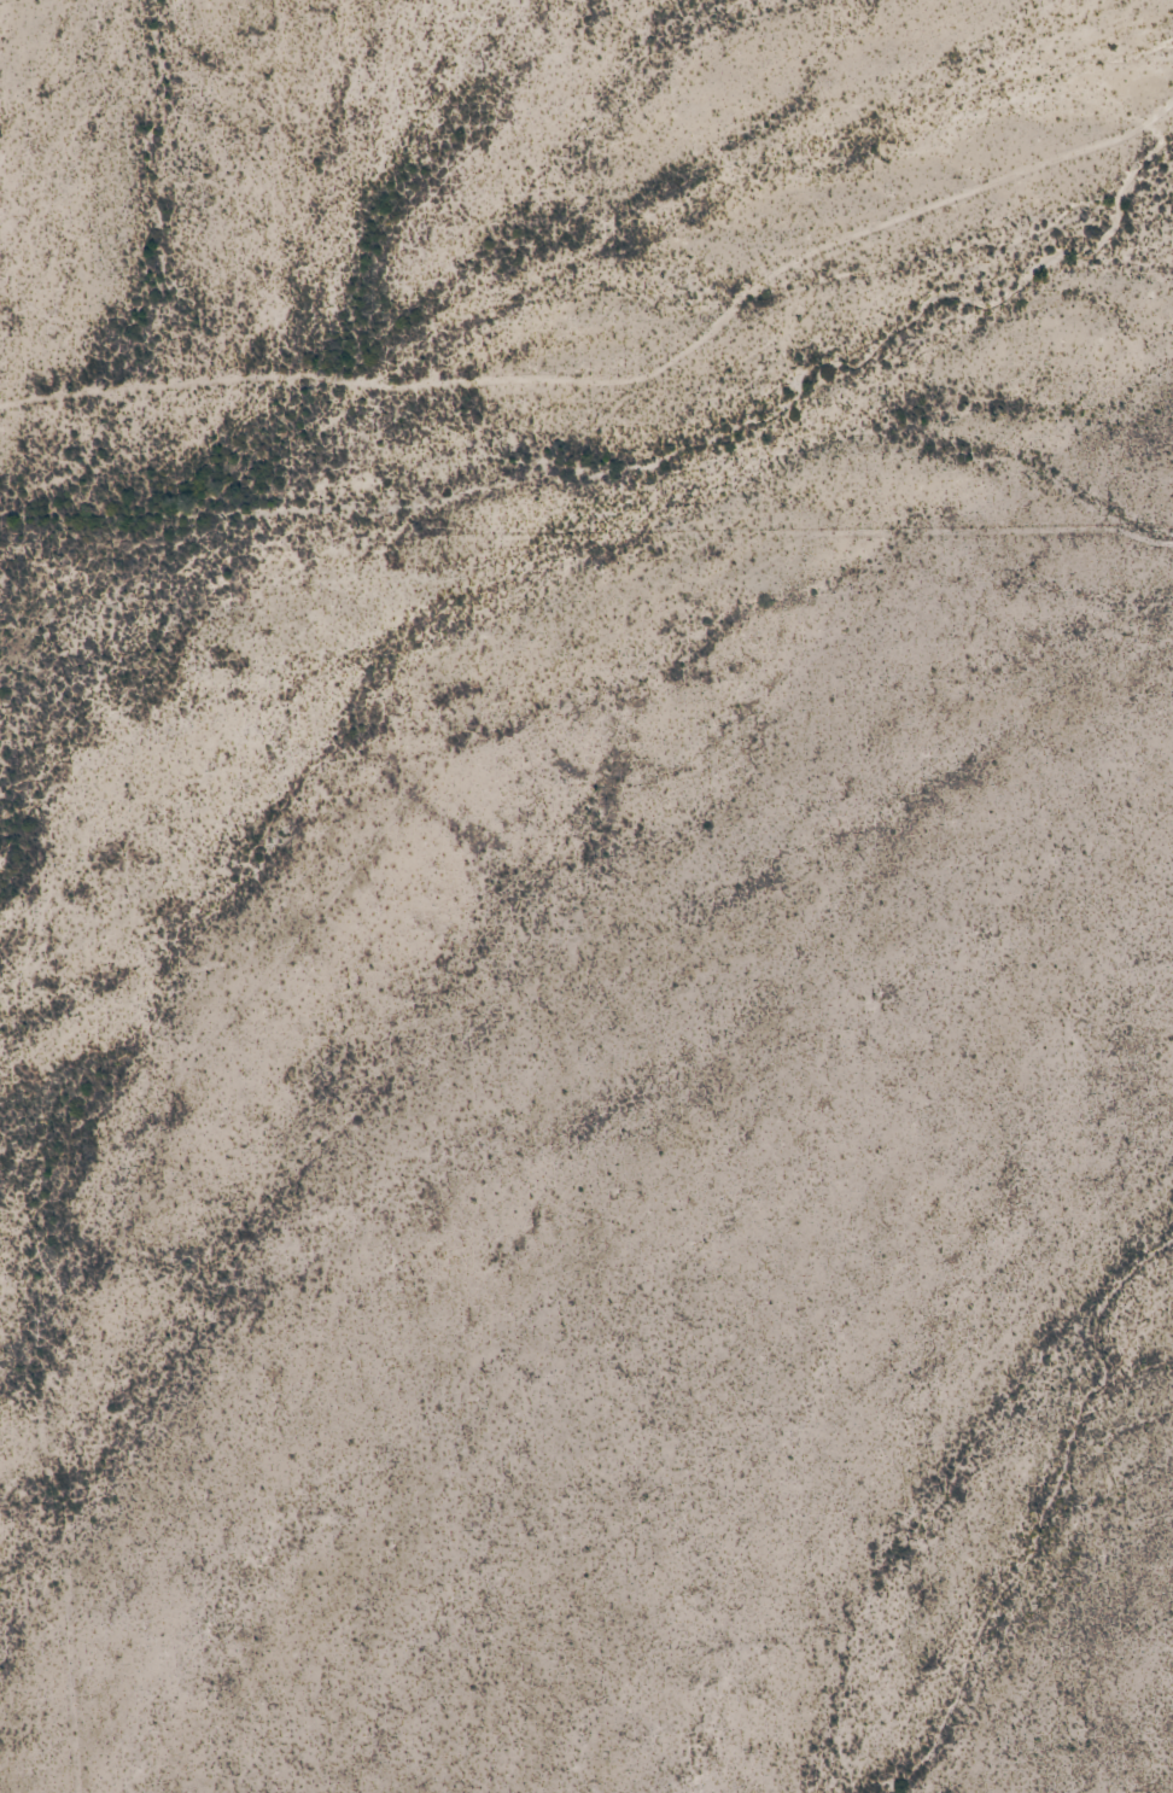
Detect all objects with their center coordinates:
road: (617, 411)

